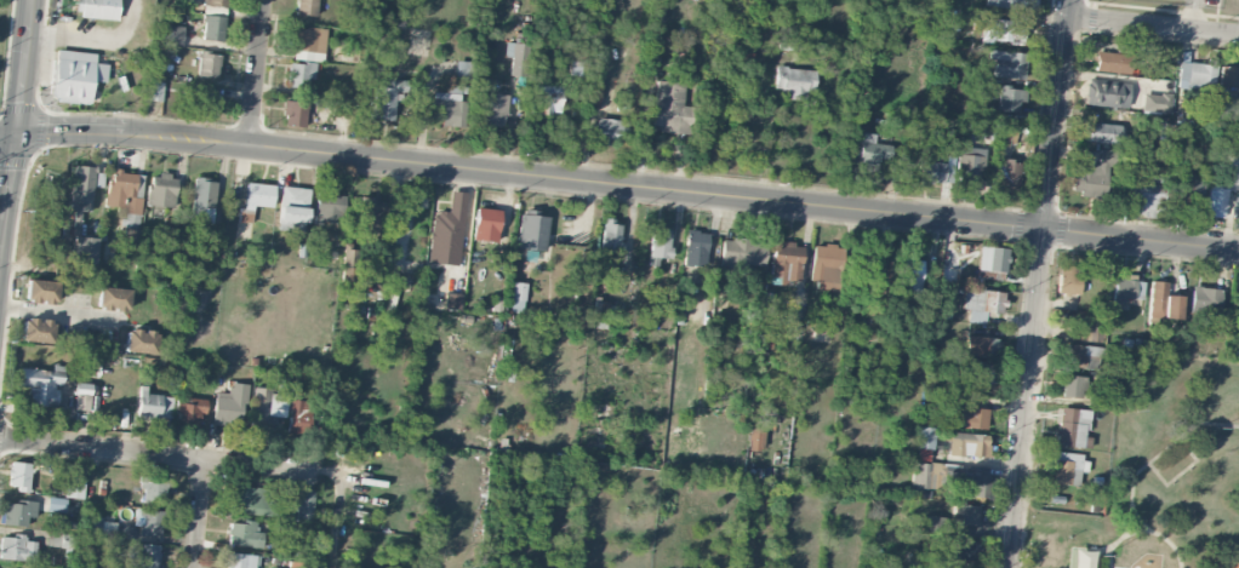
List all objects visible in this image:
building: (212, 1)
building: (1011, 4)
building: (307, 7)
building: (97, 8)
building: (657, 12)
road: (1193, 15)
park: (1, 19)
road: (58, 19)
road: (1154, 25)
building: (212, 28)
building: (1001, 30)
building: (169, 35)
road: (91, 39)
building: (309, 44)
building: (516, 56)
building: (1112, 62)
building: (207, 64)
building: (1007, 64)
building: (462, 69)
road: (257, 73)
building: (301, 74)
building: (1195, 75)
building: (75, 76)
building: (1228, 79)
building: (794, 81)
building: (154, 91)
building: (1102, 93)
building: (593, 94)
building: (386, 98)
building: (546, 98)
building: (1009, 98)
building: (1154, 102)
building: (205, 103)
building: (449, 105)
building: (670, 108)
building: (492, 109)
building: (293, 113)
building: (610, 130)
road: (7, 132)
traffic signals: (16, 132)
building: (1102, 133)
building: (1006, 134)
road: (15, 137)
building: (1221, 147)
building: (870, 149)
building: (969, 168)
building: (931, 172)
building: (1005, 176)
building: (1094, 177)
road: (627, 187)
building: (81, 188)
building: (160, 190)
building: (1183, 190)
building: (124, 191)
building: (1142, 195)
building: (202, 200)
building: (255, 200)
building: (1215, 200)
building: (327, 206)
building: (292, 208)
building: (366, 216)
building: (485, 224)
building: (447, 231)
building: (531, 231)
building: (129, 237)
building: (610, 237)
building: (658, 246)
building: (695, 248)
building: (84, 249)
building: (742, 252)
building: (992, 258)
building: (349, 262)
building: (786, 262)
building: (826, 266)
building: (908, 275)
building: (866, 277)
building: (1067, 279)
road: (1038, 283)
building: (1126, 288)
building: (41, 291)
building: (518, 291)
building: (113, 298)
building: (1204, 298)
building: (452, 302)
building: (1163, 302)
building: (981, 303)
building: (946, 305)
building: (1237, 308)
road: (59, 311)
building: (772, 328)
building: (36, 329)
building: (1090, 329)
building: (139, 340)
building: (981, 346)
building: (1075, 355)
building: (975, 371)
building: (41, 384)
building: (1072, 386)
building: (82, 388)
building: (229, 405)
building: (265, 405)
building: (155, 406)
building: (188, 409)
building: (297, 417)
building: (970, 418)
building: (1072, 426)
building: (925, 437)
building: (754, 438)
building: (967, 444)
road: (158, 455)
building: (1067, 466)
building: (19, 475)
building: (923, 475)
park: (1159, 482)
building: (972, 486)
building: (74, 487)
building: (153, 490)
building: (250, 500)
building: (56, 504)
building: (304, 505)
building: (17, 512)
building: (966, 514)
road: (199, 515)
building: (149, 522)
building: (931, 523)
building: (101, 527)
building: (242, 534)
building: (16, 549)
building: (960, 549)
building: (143, 556)
building: (239, 561)

